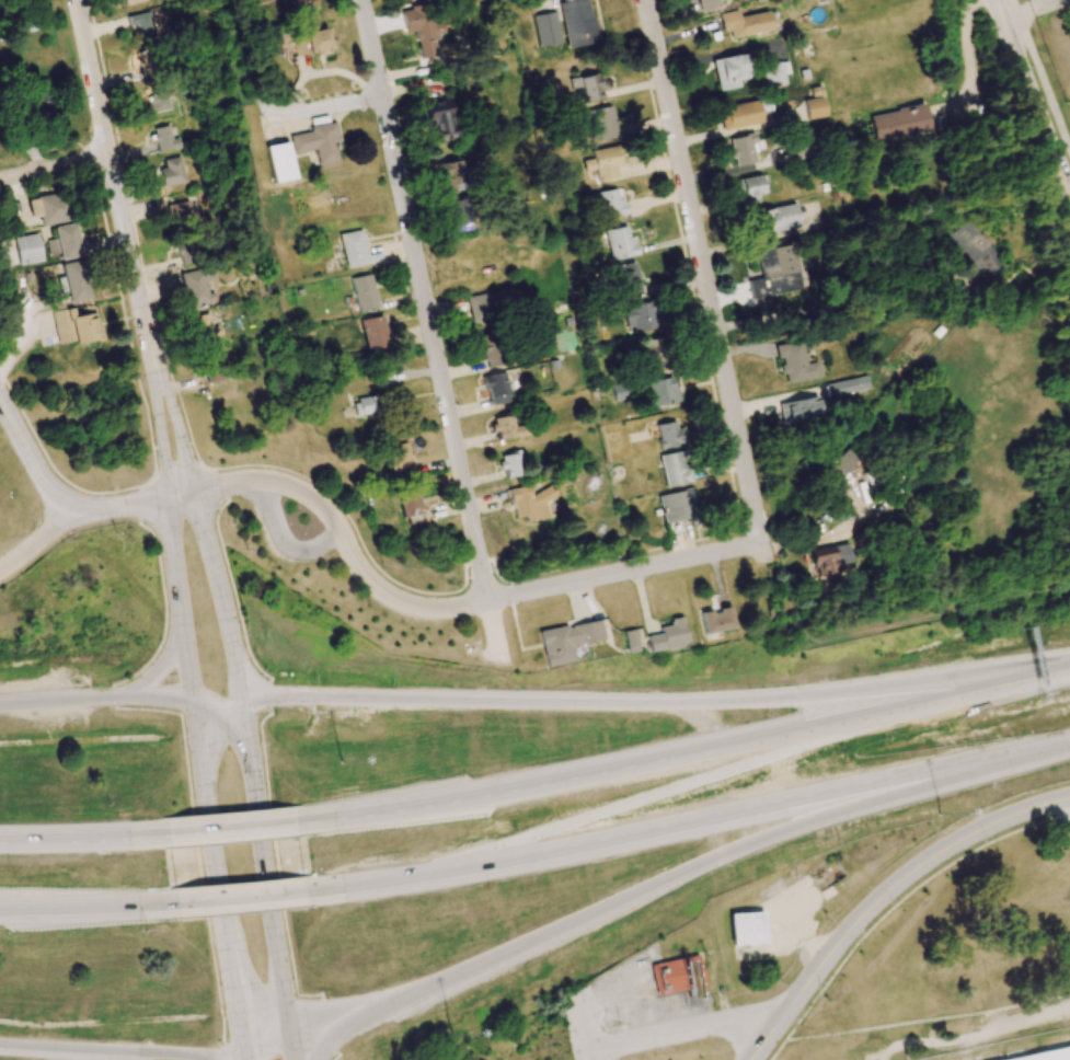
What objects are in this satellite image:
building: (130, 1)
road: (1040, 1)
building: (299, 4)
building: (707, 4)
road: (1026, 10)
building: (577, 23)
building: (745, 23)
building: (141, 25)
building: (422, 27)
building: (546, 28)
road: (245, 58)
road: (973, 67)
building: (729, 71)
road: (1042, 72)
building: (774, 73)
building: (592, 90)
road: (1032, 94)
building: (157, 99)
building: (38, 104)
building: (814, 104)
road: (329, 105)
building: (739, 115)
building: (439, 119)
building: (898, 123)
building: (599, 124)
building: (165, 139)
building: (317, 142)
building: (741, 149)
road: (54, 161)
building: (287, 162)
building: (602, 162)
building: (177, 173)
building: (448, 176)
building: (750, 189)
building: (610, 204)
building: (47, 208)
building: (180, 211)
building: (455, 211)
building: (779, 218)
building: (65, 242)
building: (620, 243)
road: (128, 247)
building: (360, 247)
building: (27, 249)
building: (187, 251)
building: (970, 253)
road: (703, 267)
building: (774, 272)
building: (626, 279)
building: (76, 281)
building: (199, 287)
building: (364, 292)
road: (837, 303)
building: (491, 304)
building: (640, 318)
building: (205, 326)
road: (432, 332)
building: (373, 334)
building: (488, 349)
building: (654, 353)
building: (795, 362)
building: (216, 370)
building: (845, 385)
building: (495, 389)
building: (661, 390)
building: (364, 406)
building: (798, 412)
building: (505, 425)
building: (668, 435)
road: (33, 457)
building: (398, 459)
building: (510, 464)
building: (839, 465)
building: (674, 468)
road: (268, 481)
building: (529, 502)
road: (128, 503)
building: (409, 505)
building: (677, 505)
road: (825, 540)
road: (37, 541)
road: (285, 542)
building: (829, 557)
road: (532, 591)
road: (219, 594)
road: (180, 597)
building: (715, 620)
building: (668, 635)
building: (567, 640)
building: (631, 641)
road: (161, 671)
road: (220, 698)
road: (159, 699)
road: (61, 701)
road: (658, 701)
road: (682, 754)
street lamp: (340, 761)
road: (781, 768)
road: (1066, 808)
street lamp: (936, 814)
road: (687, 821)
road: (229, 829)
road: (82, 840)
road: (267, 868)
road: (218, 875)
road: (672, 875)
road: (238, 895)
road: (885, 896)
road: (87, 903)
building: (747, 927)
building: (678, 973)
road: (584, 1028)
road: (690, 1029)
street lamp: (449, 1036)
road: (265, 1047)
road: (120, 1049)
road: (290, 1051)
building: (1048, 1055)
road: (241, 1056)

